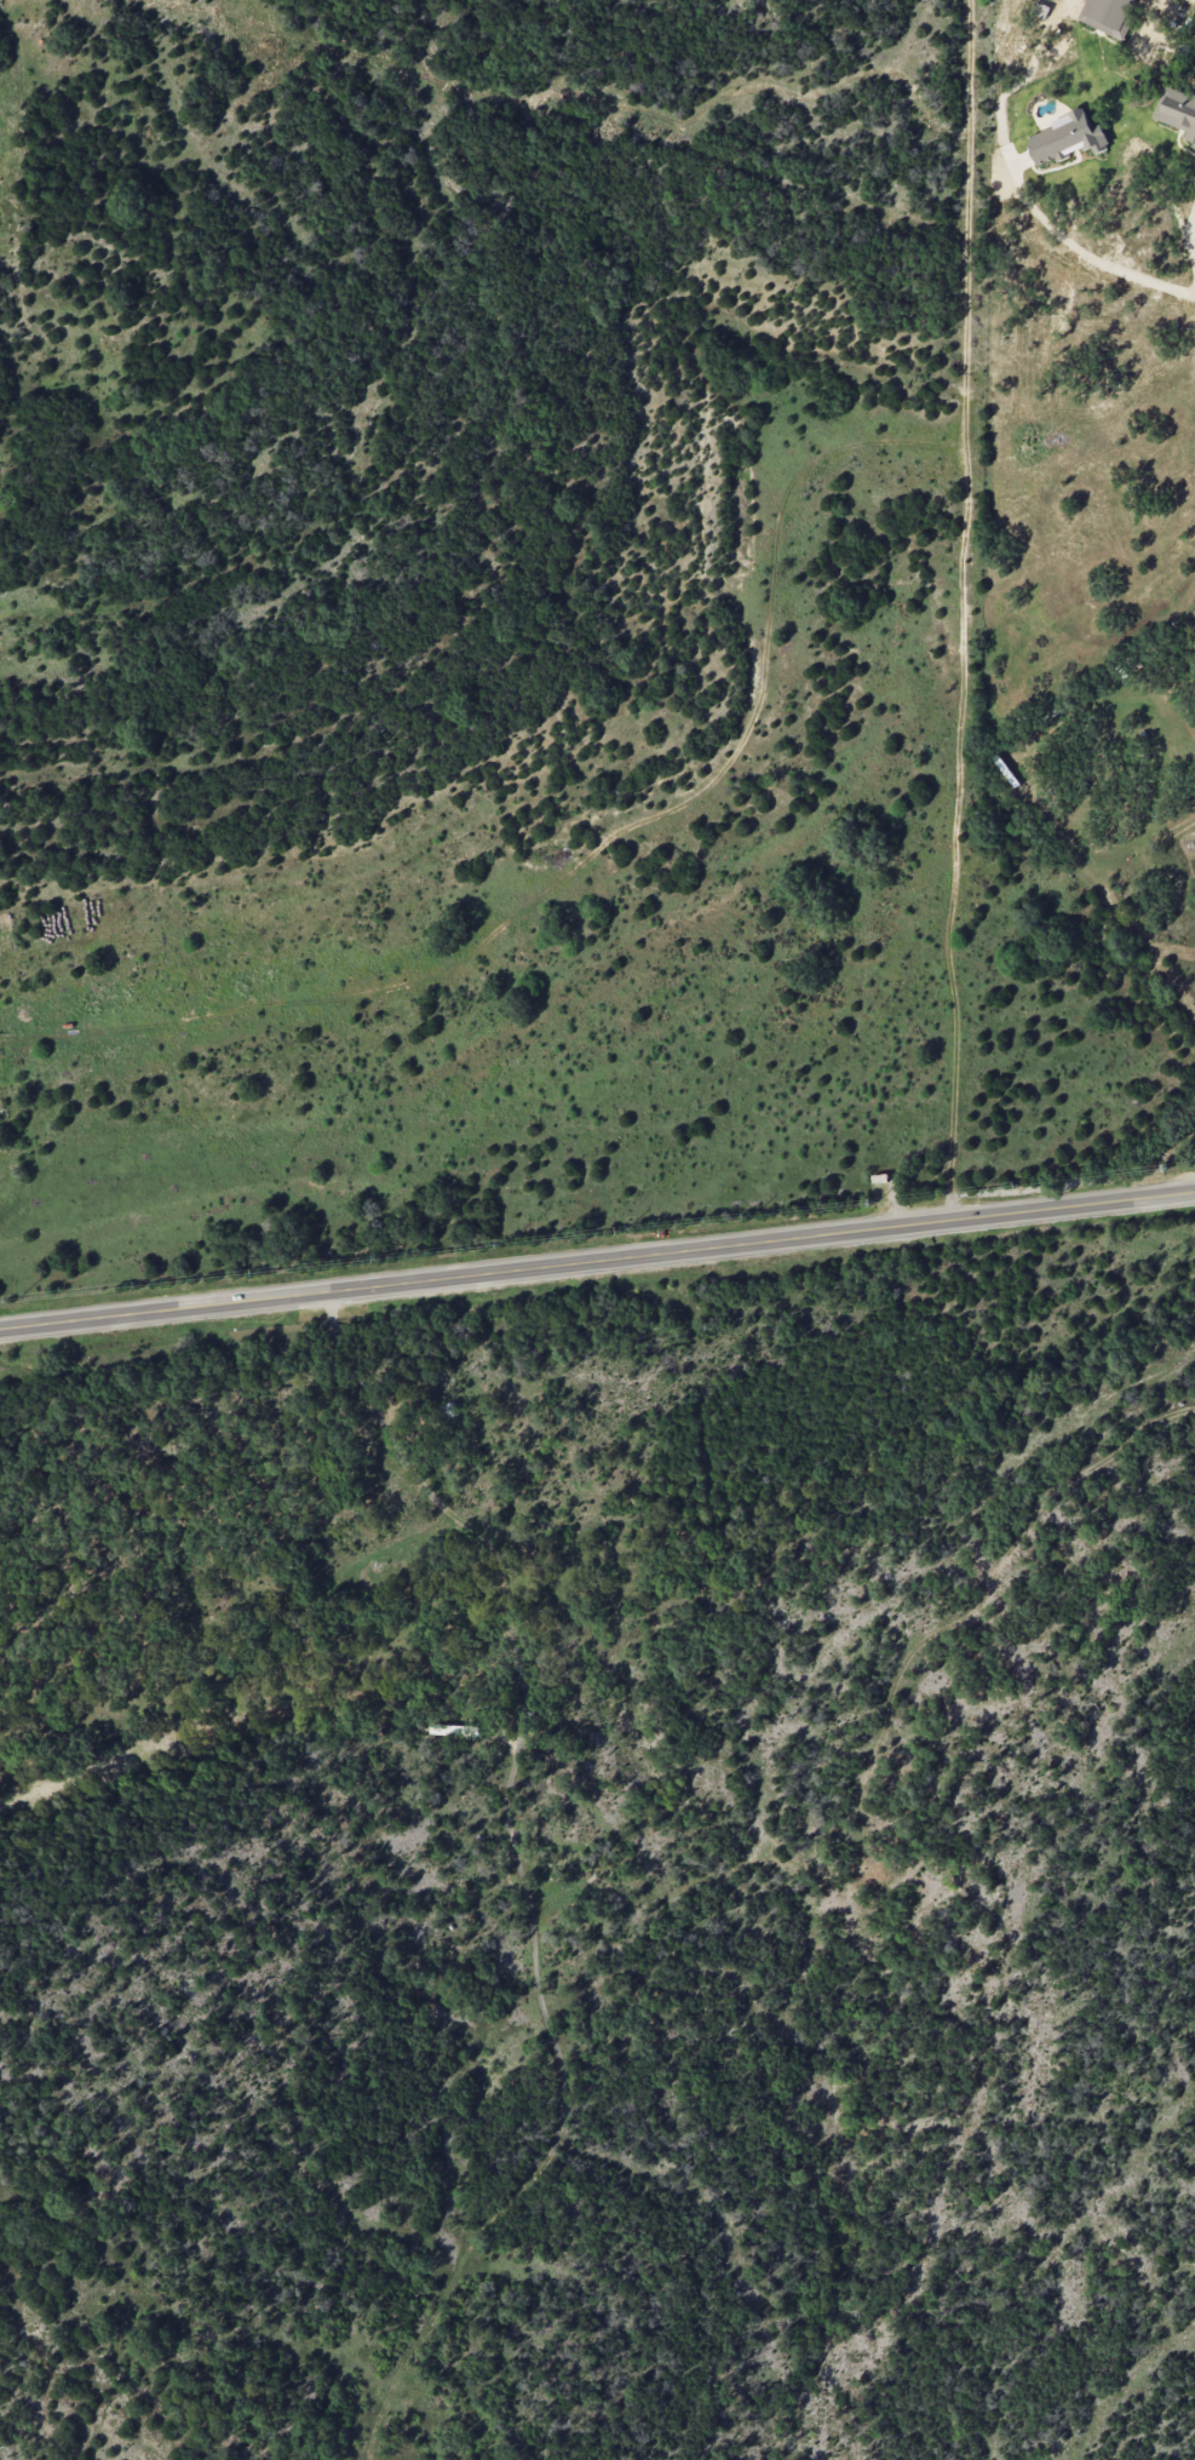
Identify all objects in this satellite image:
building: (1108, 15)
building: (1177, 110)
building: (1065, 138)
road: (1193, 233)
road: (1081, 251)
road: (1193, 618)
road: (597, 1261)
building: (449, 1410)

